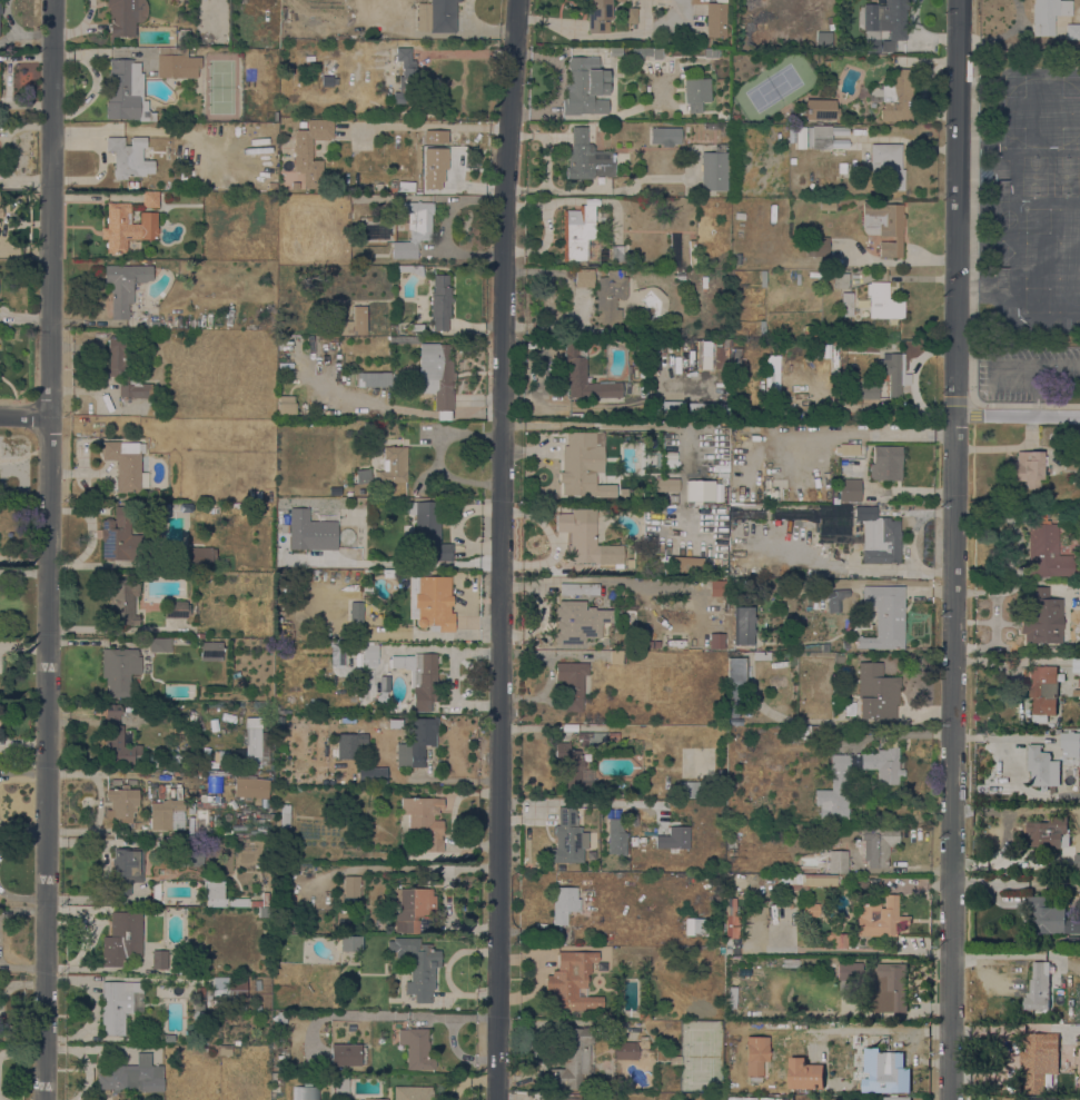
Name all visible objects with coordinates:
building: (1049, 13)
building: (598, 14)
building: (437, 16)
building: (632, 16)
building: (125, 17)
road: (975, 18)
building: (715, 20)
building: (883, 21)
building: (1072, 31)
building: (822, 39)
building: (707, 41)
building: (888, 46)
building: (615, 51)
building: (681, 51)
building: (646, 52)
building: (709, 52)
building: (177, 63)
building: (403, 75)
building: (328, 80)
park: (1014, 86)
building: (585, 87)
park: (1071, 87)
building: (126, 91)
building: (695, 93)
building: (895, 96)
building: (821, 109)
track: (1043, 112)
building: (735, 118)
building: (921, 118)
building: (710, 126)
building: (664, 135)
building: (819, 137)
park: (1014, 138)
park: (1071, 139)
building: (310, 151)
building: (129, 157)
building: (586, 157)
building: (888, 162)
building: (433, 168)
building: (715, 168)
building: (841, 170)
park: (1034, 177)
park: (1066, 177)
park: (1002, 181)
building: (132, 186)
building: (150, 199)
building: (826, 206)
building: (0, 211)
road: (973, 214)
building: (351, 218)
park: (1007, 219)
park: (1038, 220)
building: (884, 226)
building: (126, 227)
building: (413, 227)
building: (586, 239)
building: (816, 246)
building: (692, 254)
building: (412, 269)
park: (1001, 269)
building: (680, 276)
building: (762, 278)
building: (840, 279)
building: (703, 283)
building: (125, 286)
building: (604, 293)
park: (1037, 300)
building: (883, 301)
building: (440, 303)
building: (846, 304)
building: (354, 323)
building: (153, 324)
building: (416, 327)
building: (762, 328)
building: (125, 368)
road: (1017, 369)
building: (433, 373)
building: (892, 373)
parking lot: (1024, 373)
road: (1039, 373)
building: (584, 375)
building: (772, 376)
building: (374, 379)
building: (863, 392)
road: (975, 400)
building: (286, 405)
road: (1033, 406)
building: (652, 410)
building: (673, 410)
building: (705, 410)
road: (974, 412)
road: (24, 415)
building: (576, 416)
road: (1018, 417)
building: (1069, 435)
building: (849, 450)
building: (1071, 459)
building: (885, 463)
building: (126, 465)
building: (393, 465)
building: (583, 466)
building: (1027, 468)
building: (363, 476)
building: (666, 484)
building: (420, 486)
building: (849, 489)
building: (338, 493)
building: (216, 509)
building: (745, 515)
building: (792, 515)
building: (683, 516)
building: (672, 517)
building: (835, 517)
building: (309, 532)
building: (428, 532)
building: (879, 536)
building: (120, 537)
building: (578, 538)
building: (1046, 548)
road: (47, 549)
road: (501, 549)
road: (953, 549)
building: (200, 556)
building: (733, 583)
building: (578, 588)
building: (716, 588)
building: (432, 602)
building: (834, 602)
building: (120, 604)
building: (813, 605)
building: (175, 610)
building: (356, 612)
building: (885, 613)
building: (634, 617)
building: (1040, 617)
building: (578, 621)
building: (744, 625)
building: (716, 641)
building: (648, 644)
building: (655, 644)
building: (159, 645)
building: (210, 651)
building: (369, 655)
building: (761, 656)
building: (617, 657)
building: (119, 670)
building: (734, 671)
building: (235, 674)
building: (420, 678)
building: (572, 684)
building: (733, 691)
building: (875, 692)
building: (1042, 692)
building: (1079, 693)
building: (228, 717)
road: (969, 724)
building: (596, 737)
building: (117, 740)
building: (255, 742)
building: (416, 742)
building: (1070, 743)
building: (346, 746)
building: (220, 756)
building: (883, 765)
building: (1040, 766)
building: (573, 769)
building: (379, 776)
building: (250, 787)
building: (687, 790)
building: (834, 790)
building: (181, 792)
building: (719, 794)
building: (121, 803)
building: (164, 812)
building: (285, 815)
building: (632, 819)
building: (424, 821)
building: (800, 826)
building: (1048, 832)
building: (616, 836)
building: (568, 838)
building: (673, 839)
building: (878, 843)
building: (190, 854)
building: (1077, 860)
building: (838, 862)
building: (126, 865)
building: (635, 869)
building: (805, 880)
building: (860, 883)
building: (351, 886)
building: (876, 886)
building: (156, 891)
building: (214, 894)
building: (564, 903)
building: (413, 909)
building: (811, 909)
building: (880, 918)
building: (1049, 918)
building: (731, 919)
building: (694, 926)
building: (121, 939)
building: (836, 939)
building: (348, 943)
building: (159, 959)
building: (790, 962)
building: (418, 967)
building: (849, 971)
building: (573, 982)
building: (257, 984)
building: (1038, 987)
building: (889, 989)
building: (236, 990)
building: (199, 994)
building: (209, 998)
building: (731, 1001)
building: (119, 1004)
building: (257, 1010)
road: (392, 1015)
building: (281, 1017)
building: (644, 1017)
road: (1014, 1022)
building: (753, 1024)
building: (773, 1025)
building: (168, 1038)
building: (416, 1048)
building: (628, 1048)
building: (189, 1049)
building: (225, 1050)
building: (731, 1052)
building: (345, 1054)
road: (458, 1054)
building: (646, 1054)
building: (572, 1058)
building: (754, 1058)
building: (1038, 1059)
building: (885, 1072)
building: (804, 1073)
building: (131, 1074)
road: (468, 1080)
building: (277, 1082)
building: (340, 1086)
building: (307, 1092)
building: (413, 1093)
building: (573, 1098)
building: (780, 1098)
building: (894, 1098)
road: (965, 1098)
building: (1037, 1098)
building: (1073, 1098)
building: (375, 1099)
building: (734, 1099)
building: (751, 1099)
building: (766, 1099)

